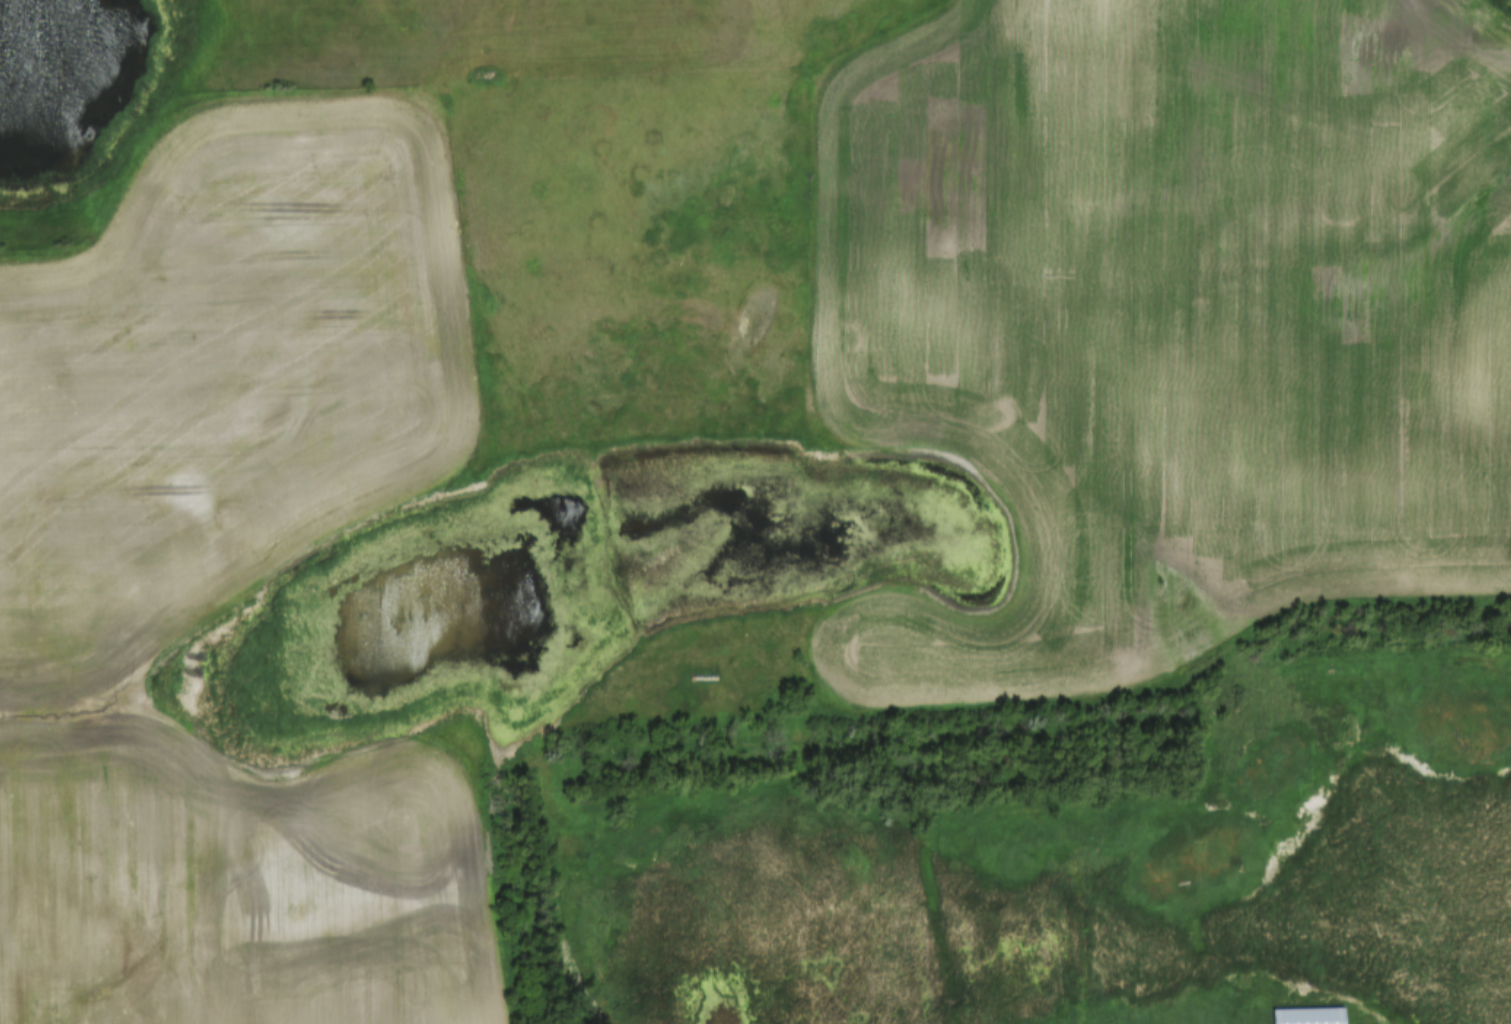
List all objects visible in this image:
building: (1307, 1016)

